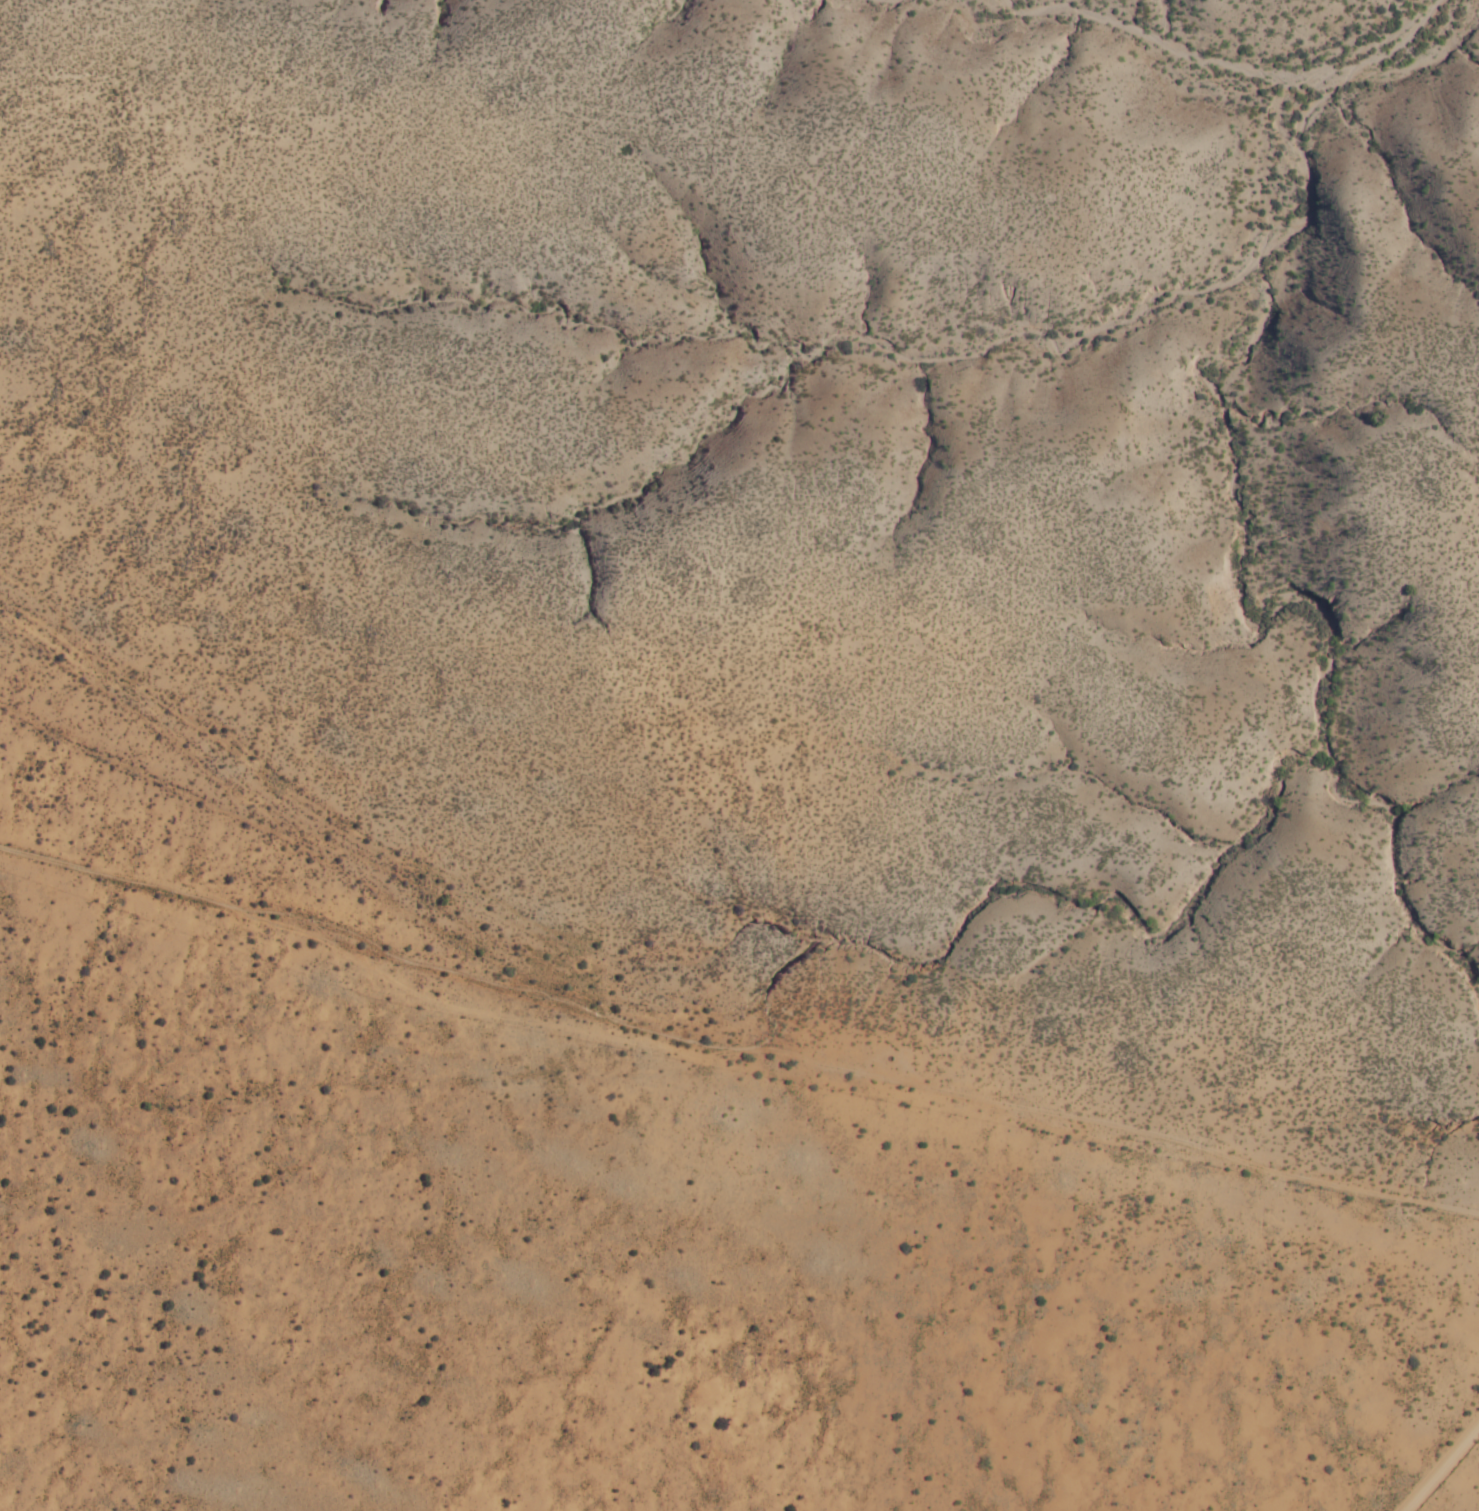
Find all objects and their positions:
road: (732, 1072)
road: (1441, 1467)

